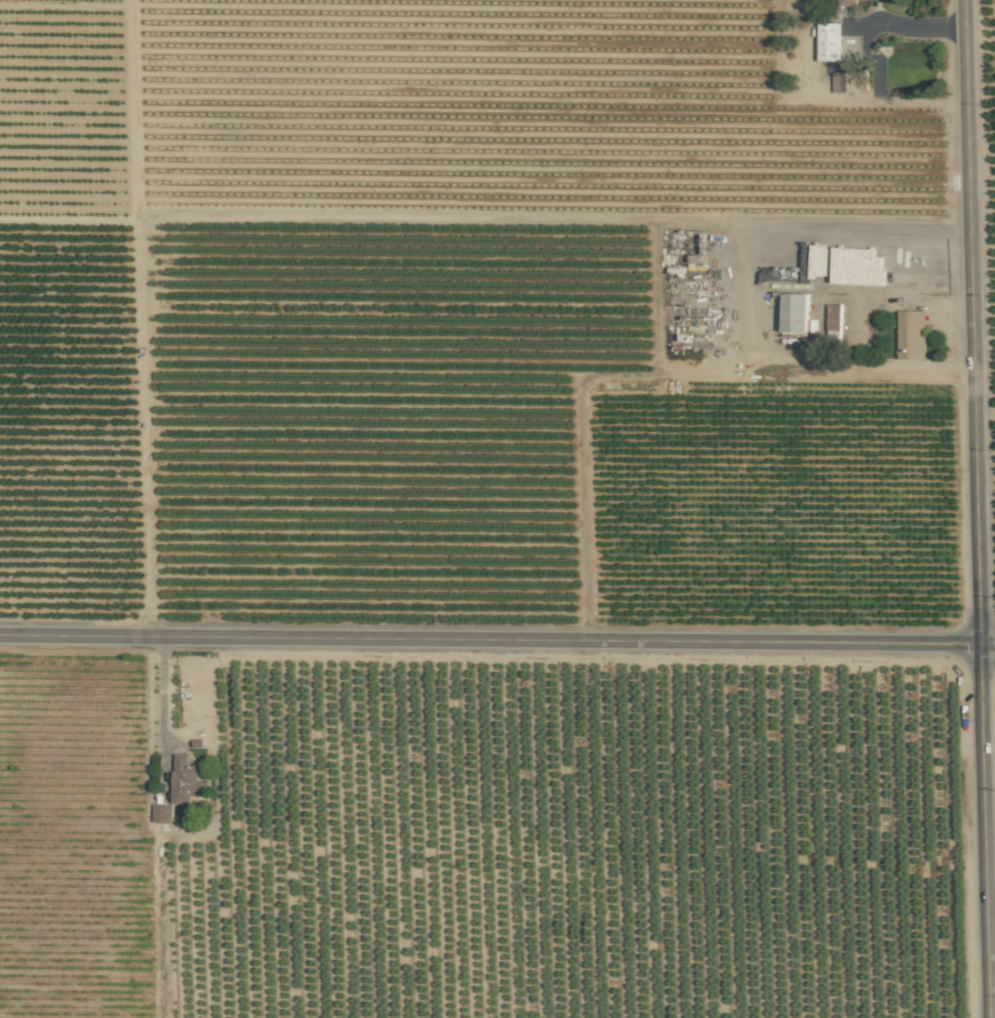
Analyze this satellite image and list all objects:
building: (847, 2)
road: (908, 27)
building: (828, 41)
road: (795, 231)
road: (877, 291)
building: (794, 312)
building: (833, 316)
building: (910, 334)
road: (865, 368)
road: (583, 426)
road: (976, 509)
road: (497, 639)
road: (161, 691)
building: (185, 780)
building: (162, 813)

